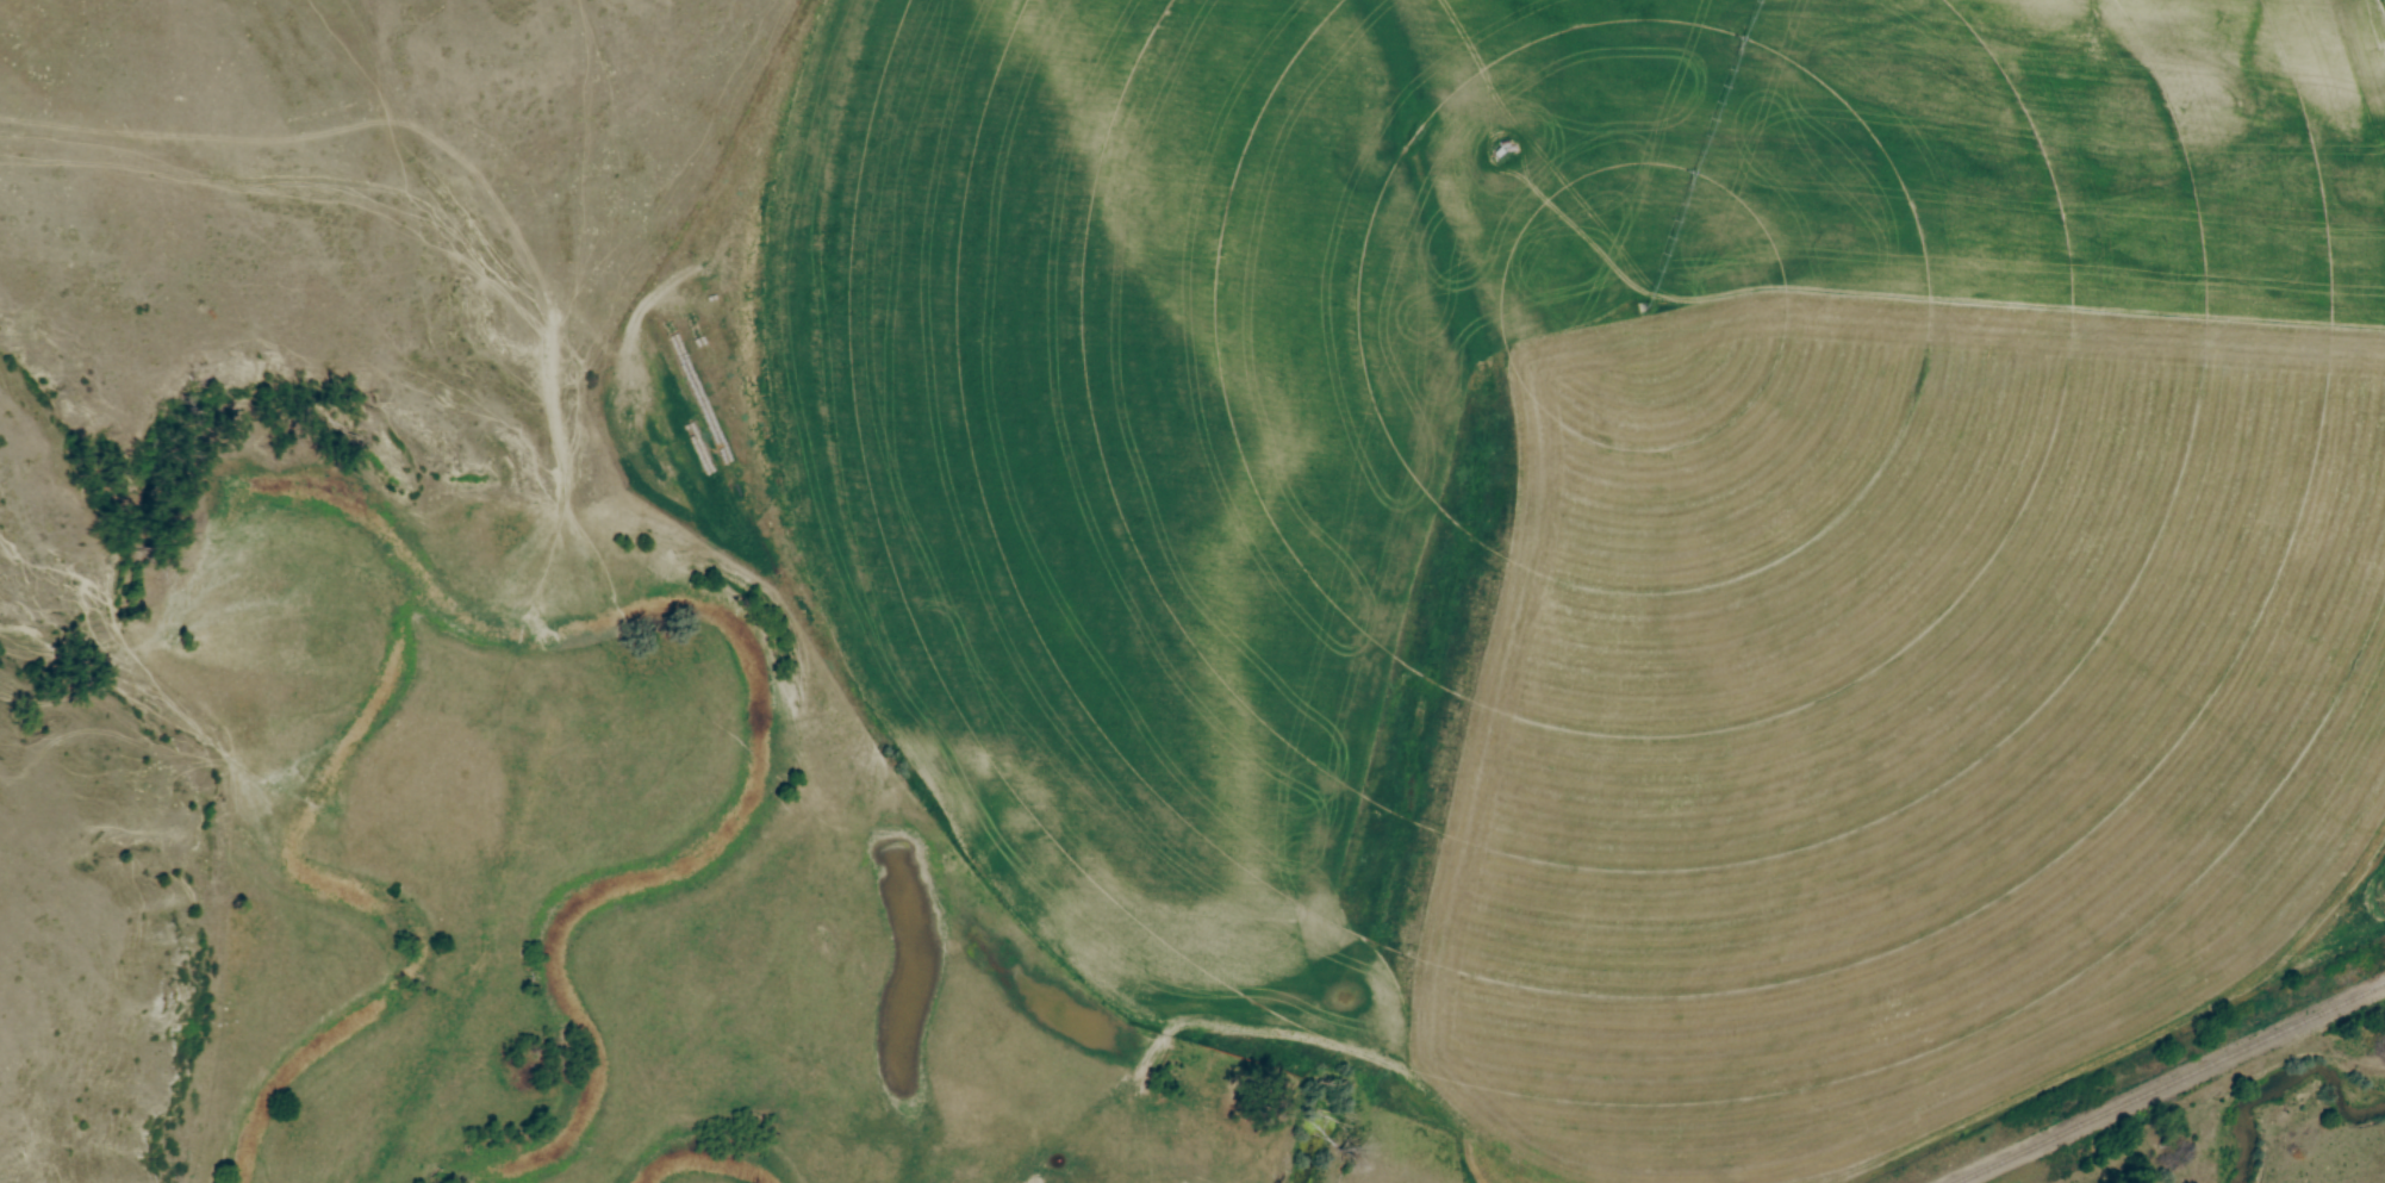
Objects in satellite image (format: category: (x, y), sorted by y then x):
railway: (2169, 1083)

